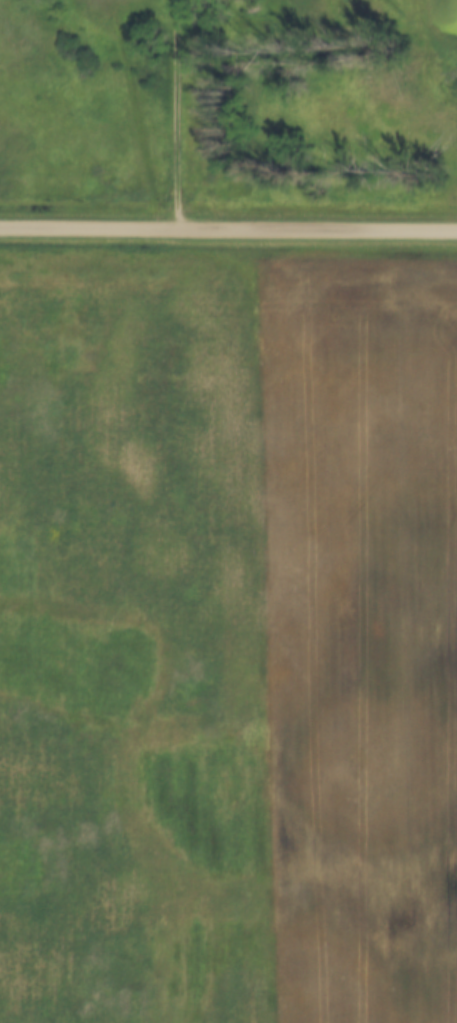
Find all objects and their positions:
road: (183, 115)
road: (228, 230)

